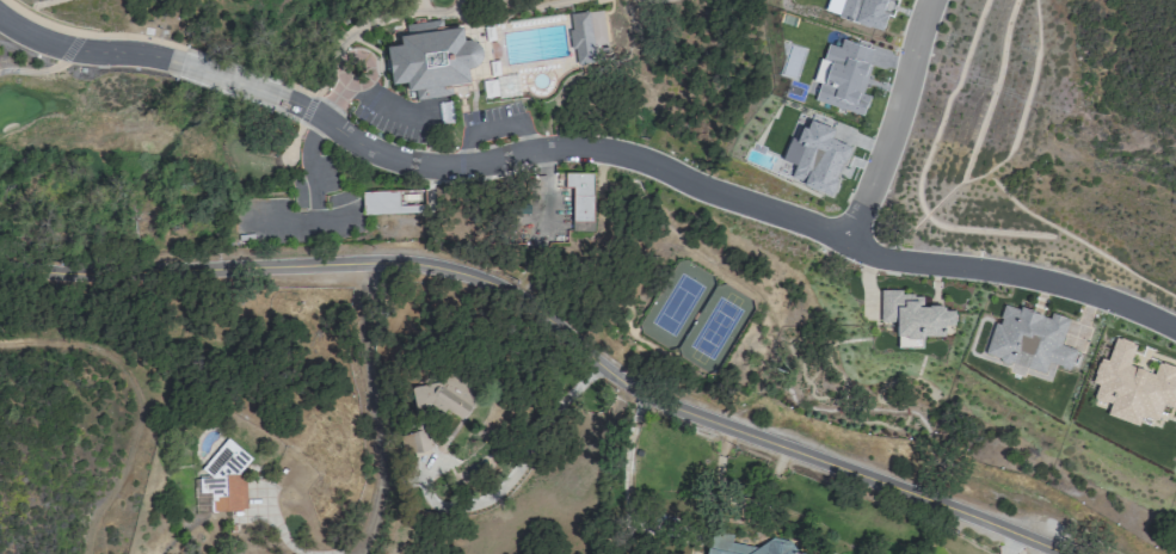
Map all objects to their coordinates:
building: (891, 0)
building: (850, 6)
road: (536, 7)
road: (421, 12)
road: (439, 13)
building: (587, 35)
road: (344, 42)
road: (160, 43)
road: (79, 55)
building: (432, 60)
road: (49, 70)
building: (843, 73)
road: (226, 84)
road: (362, 91)
road: (522, 110)
road: (438, 122)
road: (901, 122)
building: (815, 152)
road: (288, 166)
building: (581, 201)
road: (727, 201)
building: (394, 202)
road: (322, 207)
road: (303, 245)
building: (911, 318)
road: (550, 322)
building: (1028, 340)
building: (1132, 386)
road: (372, 408)
building: (224, 478)
road: (277, 524)

